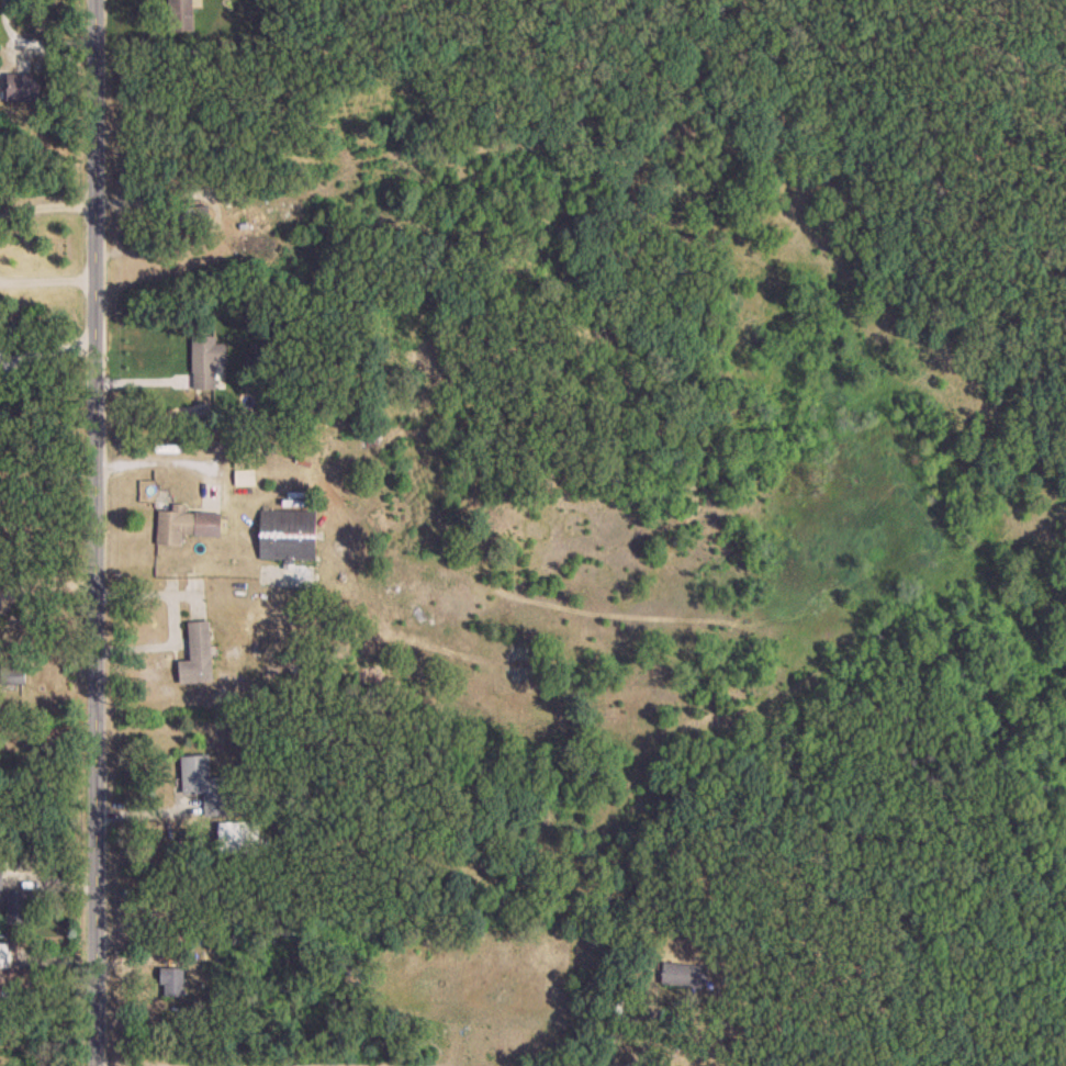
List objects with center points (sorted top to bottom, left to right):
building: (182, 13)
road: (34, 43)
building: (24, 87)
road: (45, 204)
road: (45, 280)
road: (45, 356)
building: (207, 361)
road: (167, 460)
building: (191, 525)
road: (92, 532)
building: (289, 534)
building: (301, 575)
road: (44, 593)
building: (200, 653)
building: (13, 677)
building: (206, 784)
building: (240, 837)
building: (2, 873)
building: (19, 907)
building: (685, 975)
building: (175, 981)
road: (646, 1043)
road: (212, 1065)

